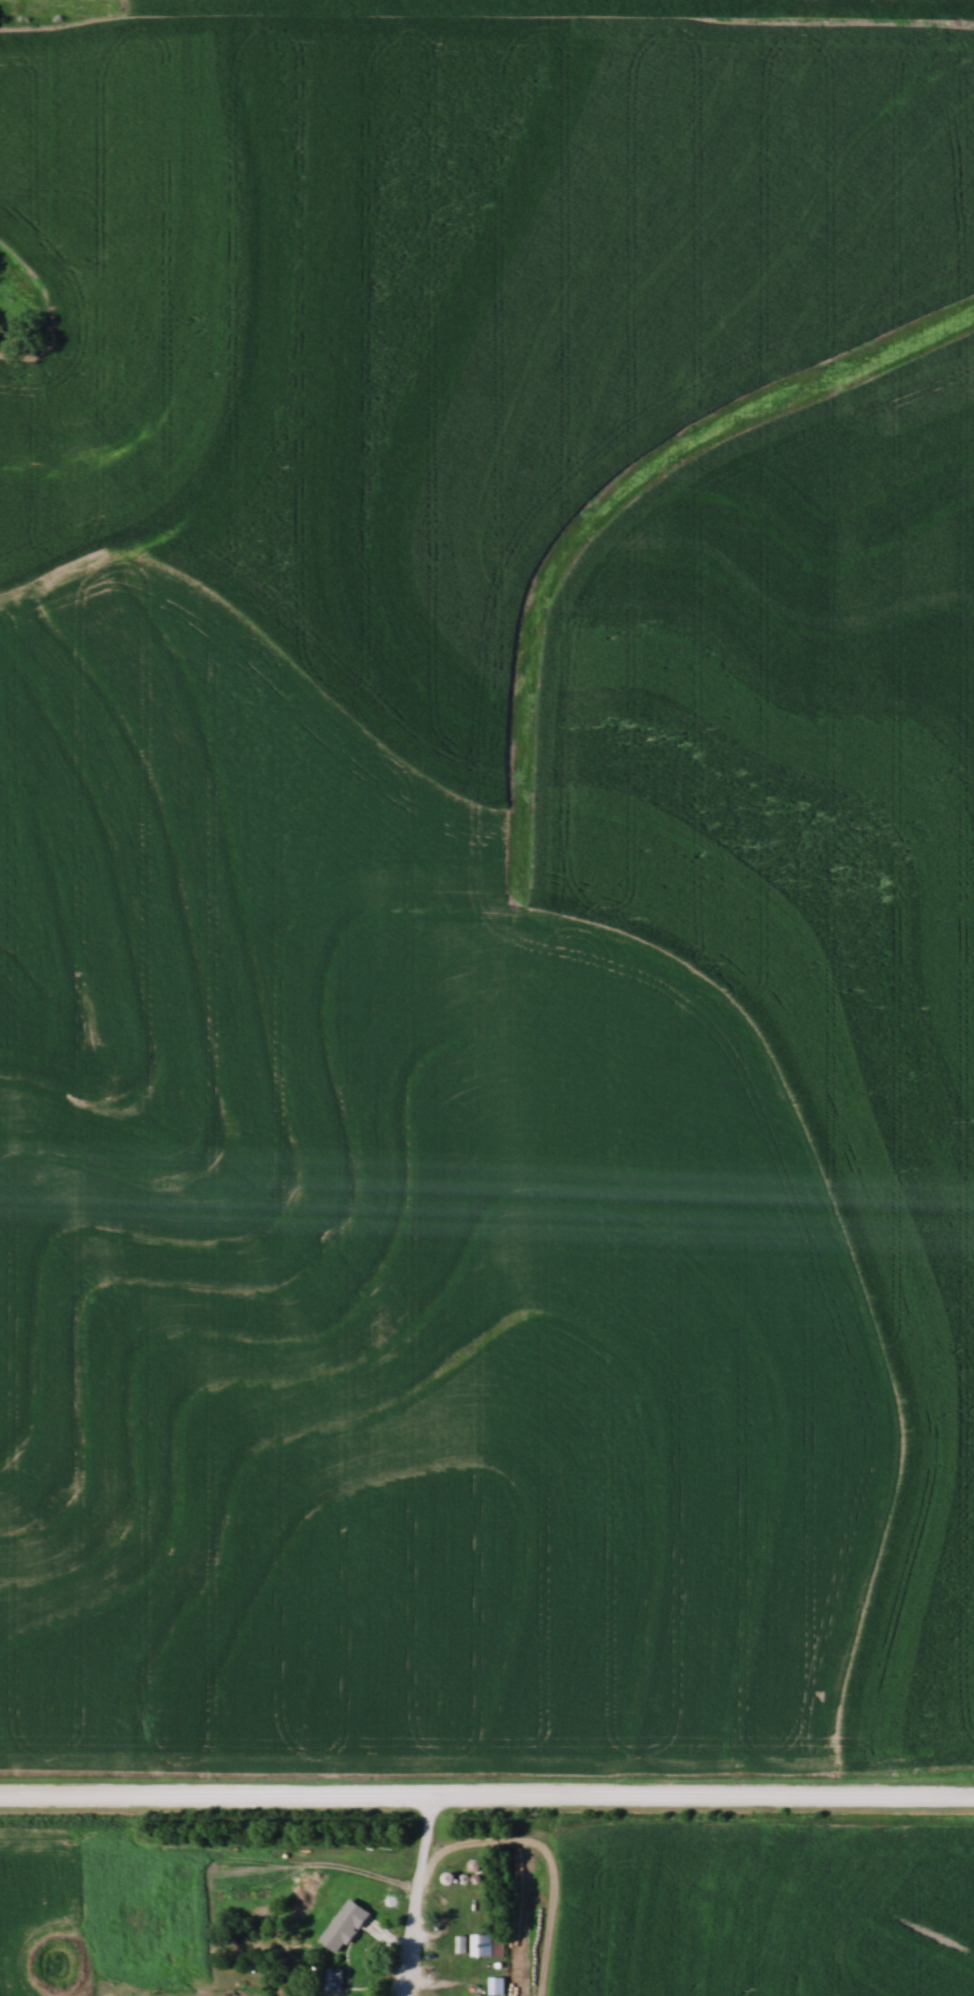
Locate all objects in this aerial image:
road: (486, 1800)
road: (422, 1898)
building: (487, 1945)
building: (334, 1979)
building: (498, 1986)

